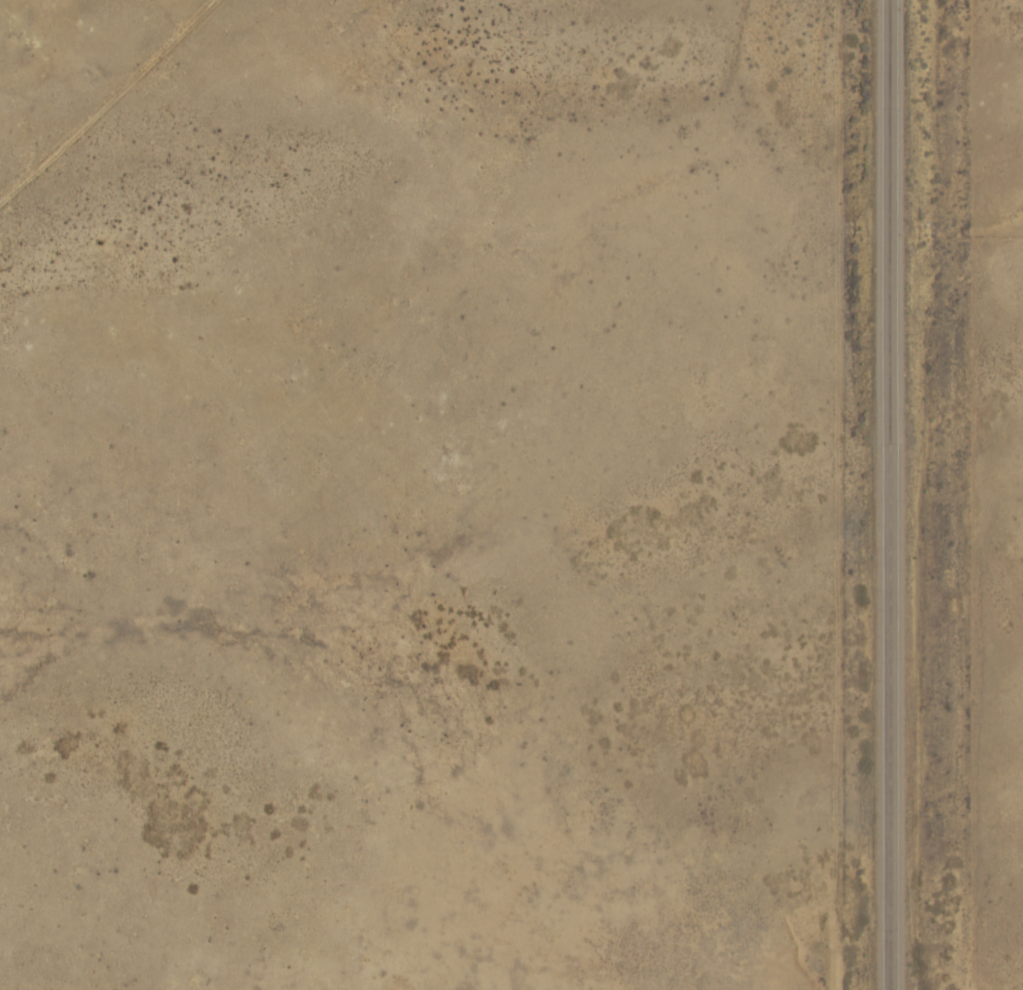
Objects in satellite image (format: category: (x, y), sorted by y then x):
road: (902, 495)

